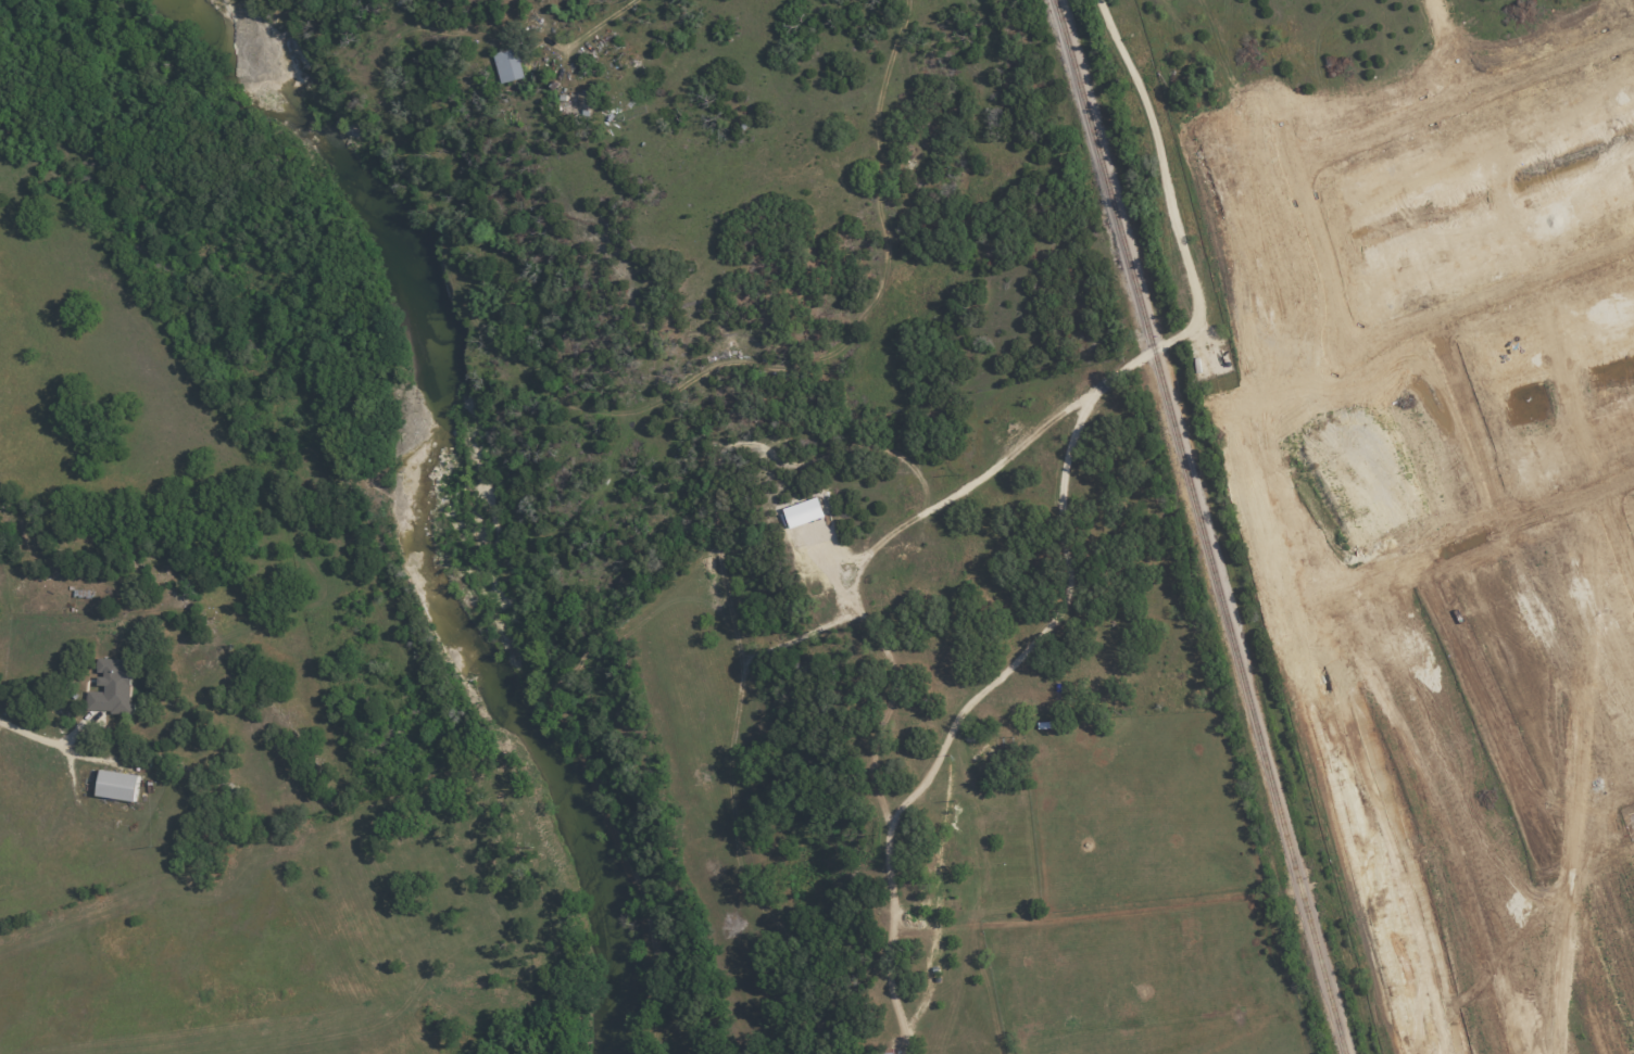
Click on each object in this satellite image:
road: (1633, 2)
road: (601, 22)
road: (1450, 49)
road: (1255, 62)
building: (507, 65)
road: (1462, 99)
road: (1317, 234)
road: (1487, 295)
road: (1470, 419)
river: (442, 501)
road: (1523, 517)
railway: (1204, 525)
road: (1617, 535)
building: (112, 687)
road: (32, 733)
building: (982, 747)
building: (117, 785)
road: (1521, 803)
road: (1587, 839)
building: (946, 856)
building: (910, 886)

